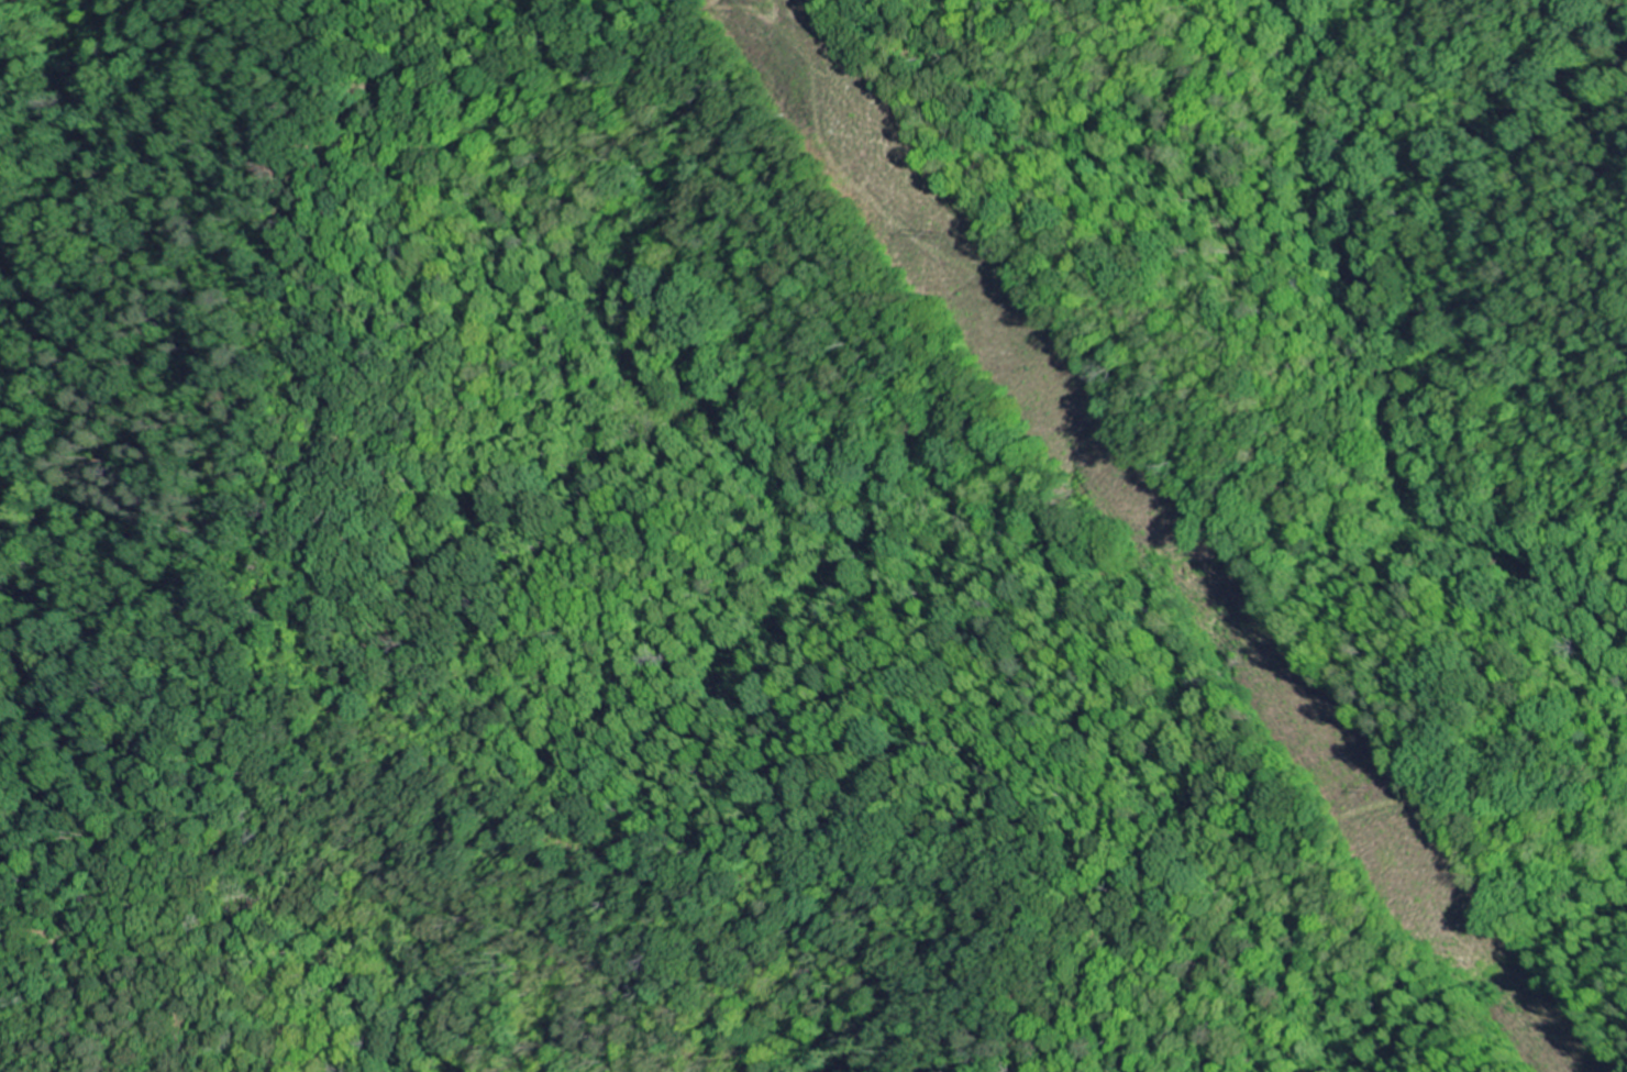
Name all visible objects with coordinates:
road: (1348, 376)
road: (85, 977)

